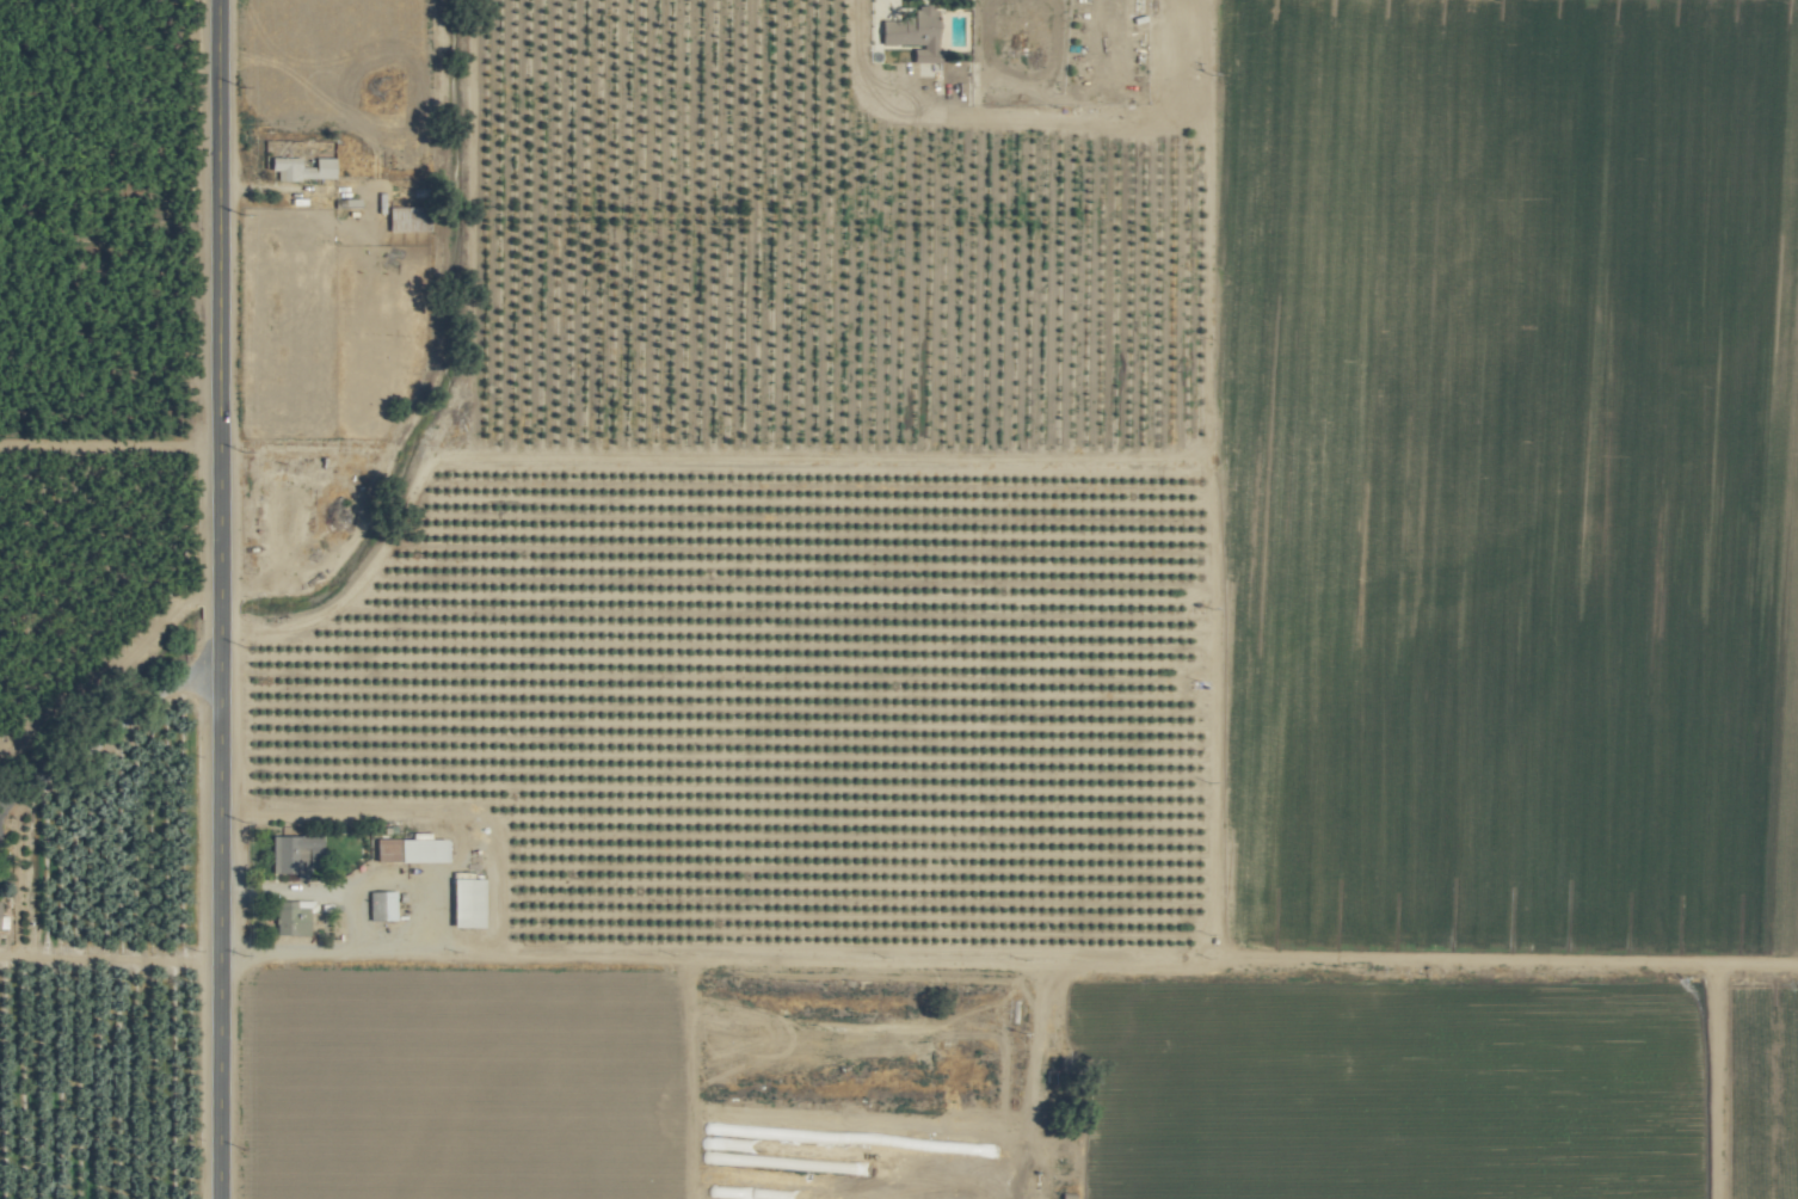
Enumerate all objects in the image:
building: (912, 32)
building: (301, 167)
road: (211, 598)
crop: (899, 599)
road: (103, 737)
building: (407, 849)
building: (290, 853)
road: (363, 886)
road: (501, 889)
building: (466, 899)
building: (380, 905)
building: (289, 918)
crop: (882, 1077)
road: (1132, 1152)

